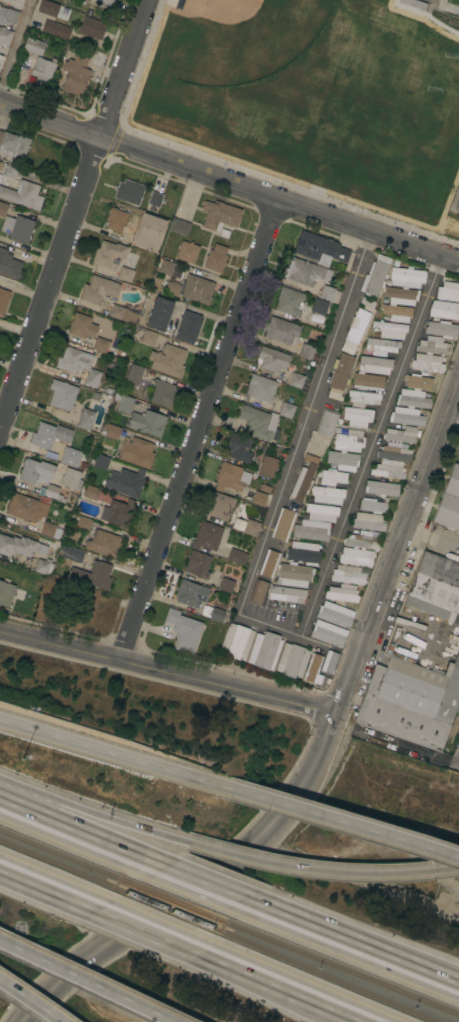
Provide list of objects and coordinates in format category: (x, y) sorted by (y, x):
building: (107, 2)
building: (48, 8)
building: (8, 16)
building: (92, 28)
building: (56, 29)
building: (5, 36)
building: (34, 46)
road: (17, 50)
building: (1, 60)
road: (125, 68)
building: (42, 72)
building: (75, 74)
building: (14, 144)
building: (10, 171)
road: (229, 182)
building: (129, 191)
building: (23, 195)
building: (155, 199)
building: (456, 207)
building: (3, 208)
building: (219, 215)
building: (119, 220)
building: (179, 226)
building: (18, 228)
building: (135, 240)
building: (320, 248)
building: (187, 252)
building: (107, 253)
building: (216, 258)
building: (9, 264)
building: (165, 267)
building: (125, 274)
building: (375, 276)
building: (311, 279)
road: (50, 285)
building: (404, 285)
building: (192, 289)
building: (98, 290)
building: (448, 291)
building: (3, 300)
building: (368, 303)
building: (298, 304)
building: (444, 310)
building: (159, 313)
building: (395, 313)
building: (122, 314)
building: (357, 324)
building: (82, 326)
building: (188, 327)
building: (390, 328)
building: (441, 328)
building: (282, 331)
building: (149, 337)
building: (383, 346)
building: (104, 347)
building: (307, 352)
building: (430, 354)
building: (272, 359)
building: (168, 360)
building: (78, 364)
building: (341, 371)
building: (382, 373)
building: (134, 374)
building: (296, 380)
building: (261, 388)
building: (162, 393)
building: (62, 394)
building: (362, 398)
building: (411, 401)
building: (123, 403)
building: (286, 410)
building: (357, 416)
building: (86, 419)
building: (147, 422)
building: (258, 422)
building: (326, 423)
road: (201, 429)
building: (111, 430)
building: (402, 434)
building: (50, 435)
building: (238, 448)
building: (345, 450)
building: (136, 451)
building: (70, 457)
building: (391, 461)
building: (101, 462)
building: (267, 465)
building: (39, 477)
building: (229, 477)
building: (332, 477)
building: (72, 480)
building: (126, 482)
building: (301, 485)
building: (381, 488)
building: (90, 491)
building: (326, 495)
building: (259, 498)
building: (449, 502)
building: (219, 505)
building: (372, 505)
building: (22, 508)
building: (121, 512)
building: (321, 512)
building: (369, 521)
building: (83, 523)
building: (283, 524)
building: (246, 526)
building: (50, 530)
building: (311, 530)
building: (207, 536)
building: (362, 540)
building: (103, 543)
road: (395, 544)
building: (20, 546)
building: (303, 552)
building: (70, 553)
building: (235, 555)
building: (356, 556)
building: (268, 563)
building: (197, 564)
building: (44, 567)
building: (348, 574)
building: (93, 575)
building: (294, 575)
building: (226, 582)
building: (434, 586)
building: (259, 591)
building: (6, 593)
building: (191, 593)
building: (342, 593)
building: (287, 594)
building: (213, 613)
building: (335, 614)
road: (272, 616)
building: (458, 629)
building: (183, 630)
building: (328, 633)
building: (236, 641)
building: (264, 650)
building: (292, 660)
building: (329, 661)
road: (167, 670)
building: (312, 678)
building: (410, 702)
road: (453, 732)
road: (110, 754)
road: (94, 812)
road: (340, 822)
road: (78, 831)
railway: (64, 855)
railway: (60, 866)
road: (322, 870)
road: (199, 883)
road: (207, 883)
road: (47, 889)
railway: (177, 901)
railway: (171, 911)
road: (134, 925)
road: (358, 944)
railway: (343, 968)
road: (254, 976)
railway: (329, 976)
road: (85, 981)
road: (29, 1002)
road: (346, 1016)

